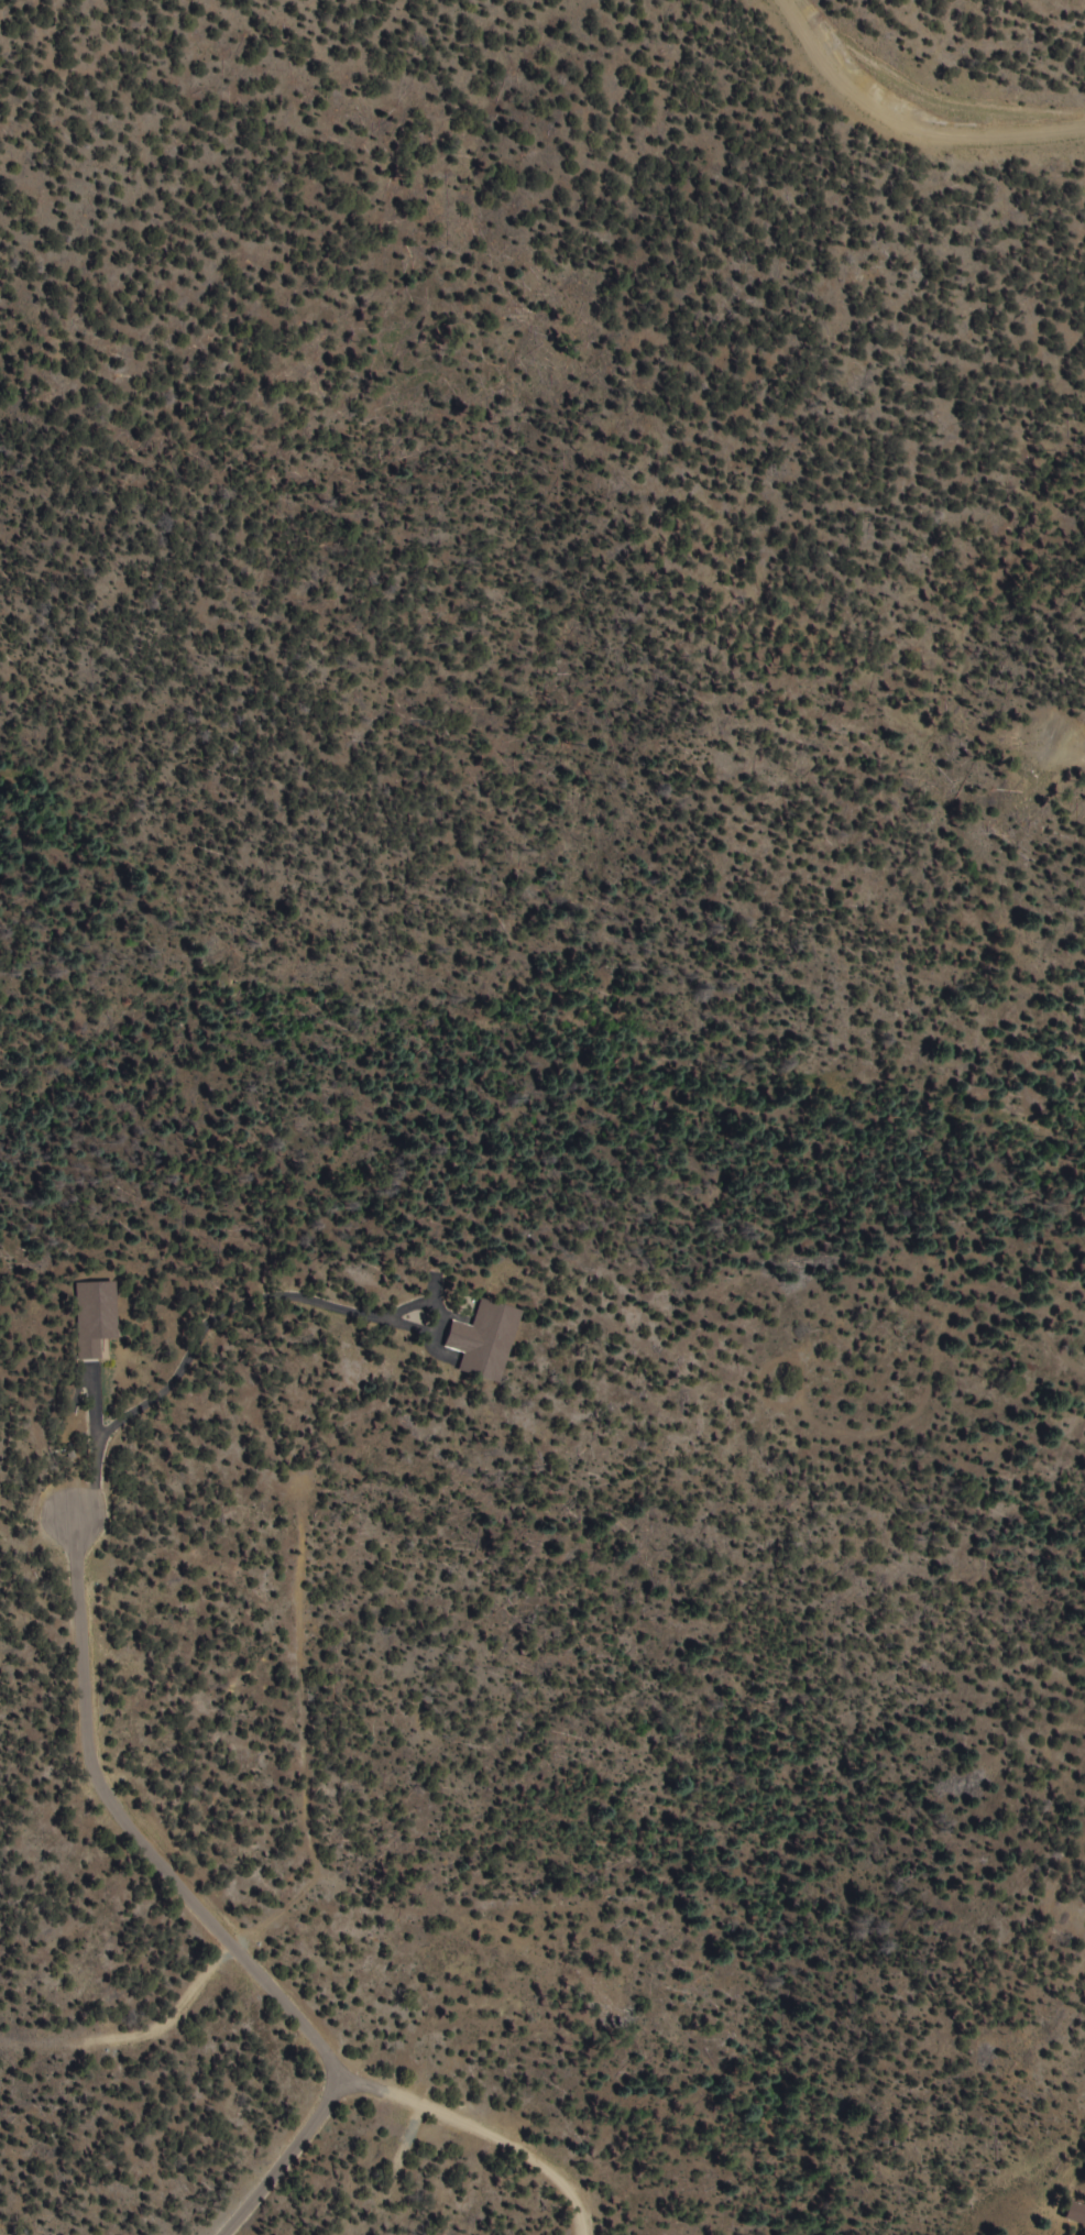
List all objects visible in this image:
building: (95, 1319)
building: (483, 1340)
building: (1074, 2214)

